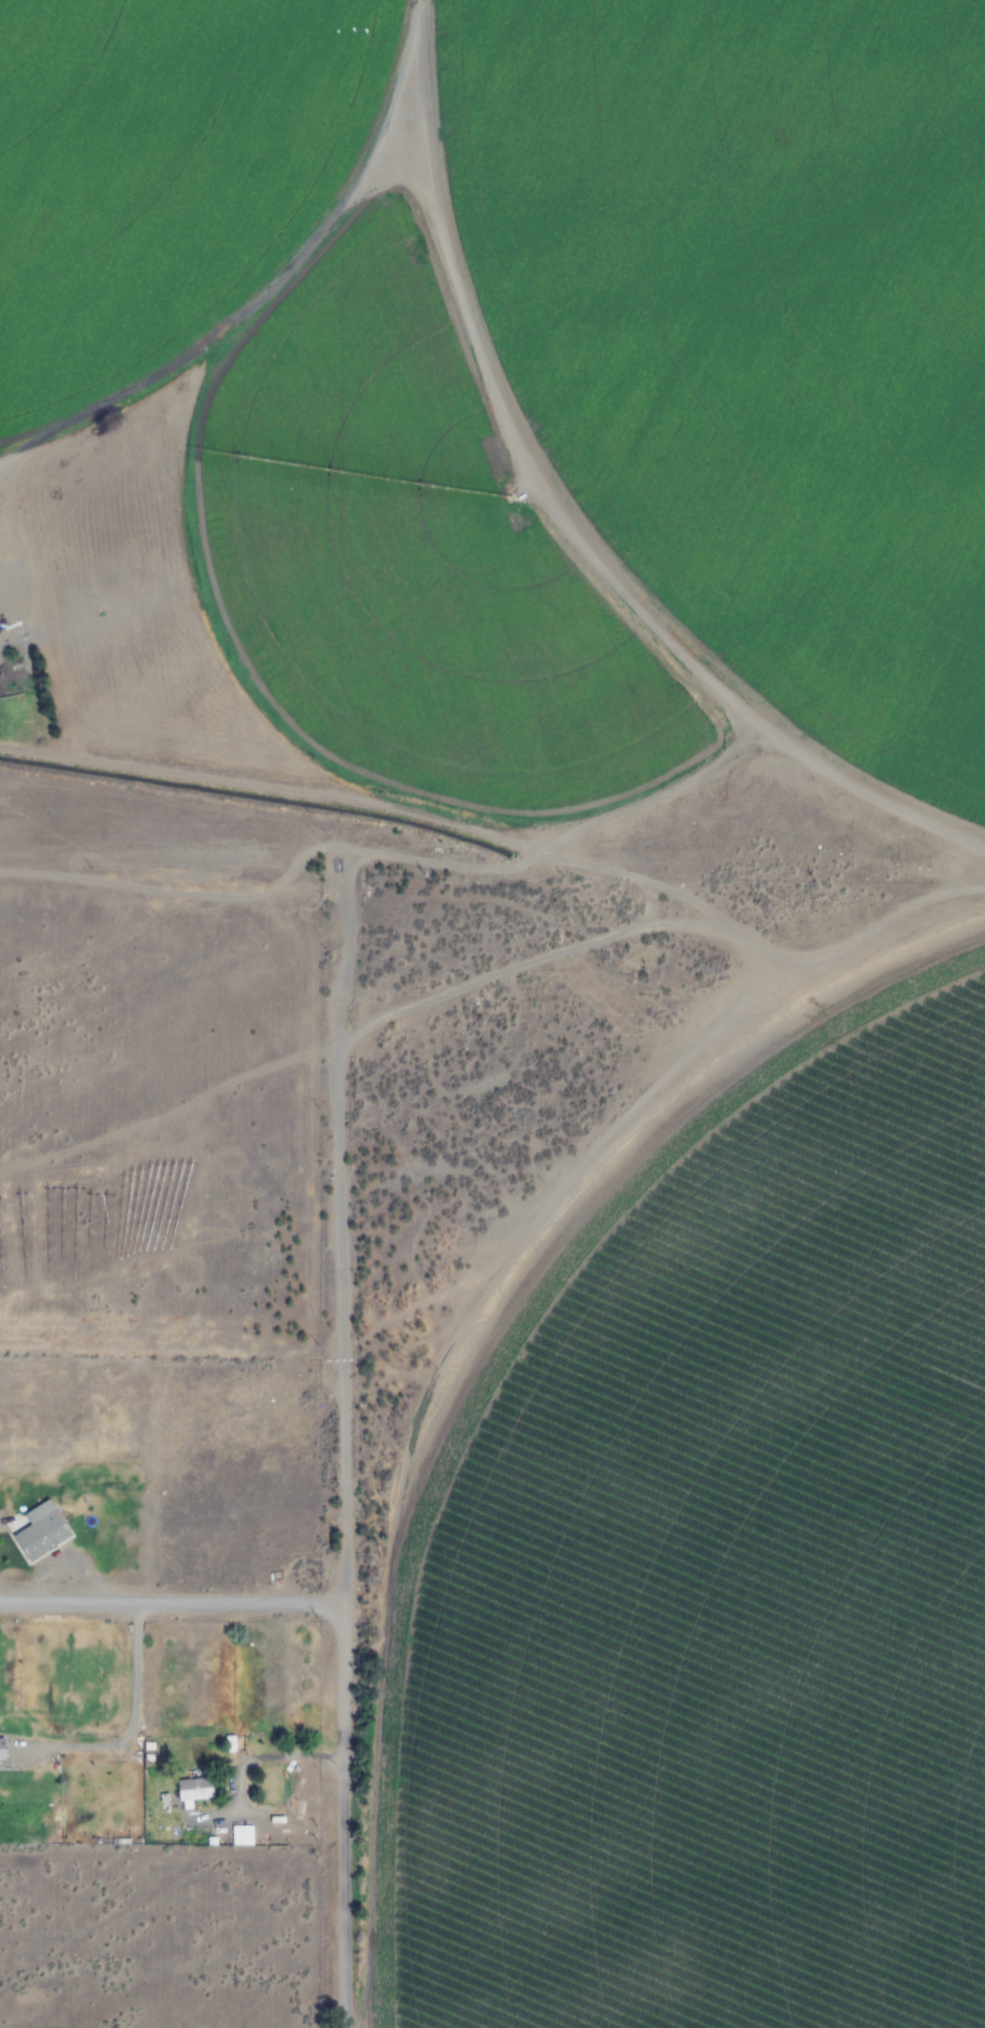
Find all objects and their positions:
road: (335, 1525)
building: (41, 1535)
building: (228, 1744)
building: (1, 1749)
building: (193, 1789)
building: (240, 1835)

